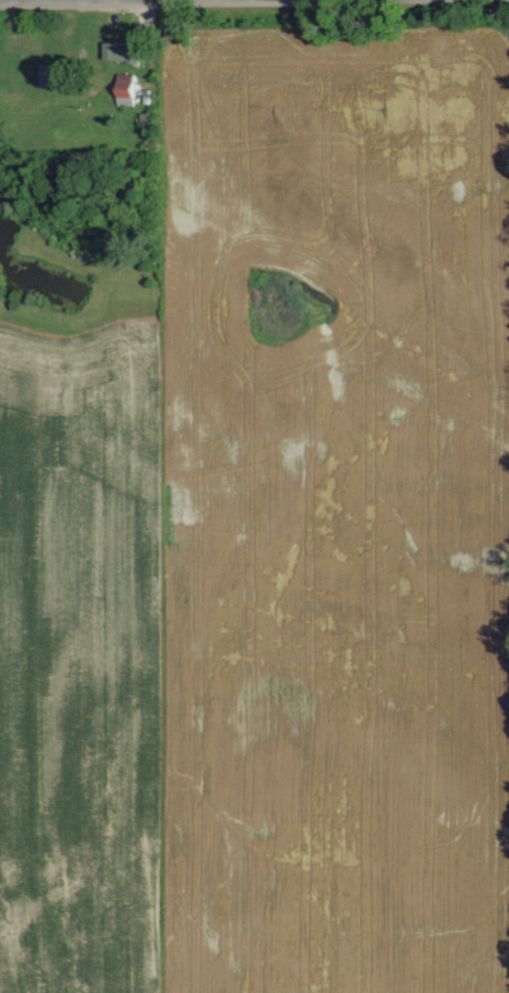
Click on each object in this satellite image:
building: (122, 52)
building: (127, 89)

